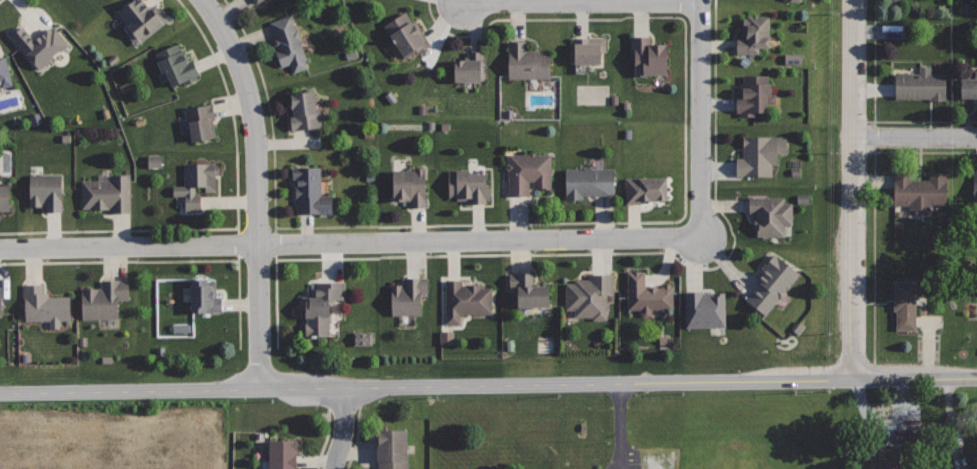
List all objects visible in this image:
road: (0, 0)
building: (257, 1)
road: (583, 2)
building: (142, 19)
building: (407, 34)
building: (754, 34)
building: (289, 43)
building: (41, 45)
building: (588, 49)
building: (648, 57)
building: (527, 61)
building: (177, 66)
building: (470, 67)
building: (5, 70)
building: (921, 83)
building: (969, 85)
building: (754, 95)
building: (304, 110)
road: (873, 112)
building: (201, 121)
road: (914, 137)
building: (760, 154)
building: (151, 161)
building: (528, 172)
building: (197, 182)
building: (589, 182)
building: (974, 184)
building: (410, 186)
building: (469, 186)
road: (256, 188)
building: (645, 188)
road: (850, 190)
building: (920, 190)
building: (46, 191)
building: (310, 191)
building: (108, 193)
building: (4, 197)
road: (873, 203)
building: (770, 213)
road: (602, 222)
road: (237, 225)
road: (465, 242)
road: (594, 252)
road: (162, 261)
building: (773, 282)
building: (529, 291)
building: (647, 294)
building: (205, 296)
building: (408, 296)
building: (590, 296)
building: (104, 299)
building: (466, 299)
building: (1, 301)
building: (905, 303)
building: (45, 305)
building: (321, 306)
building: (705, 309)
building: (444, 338)
building: (360, 339)
road: (488, 385)
road: (344, 407)
road: (343, 428)
road: (326, 438)
road: (356, 438)
building: (392, 448)
building: (283, 453)
building: (879, 460)

